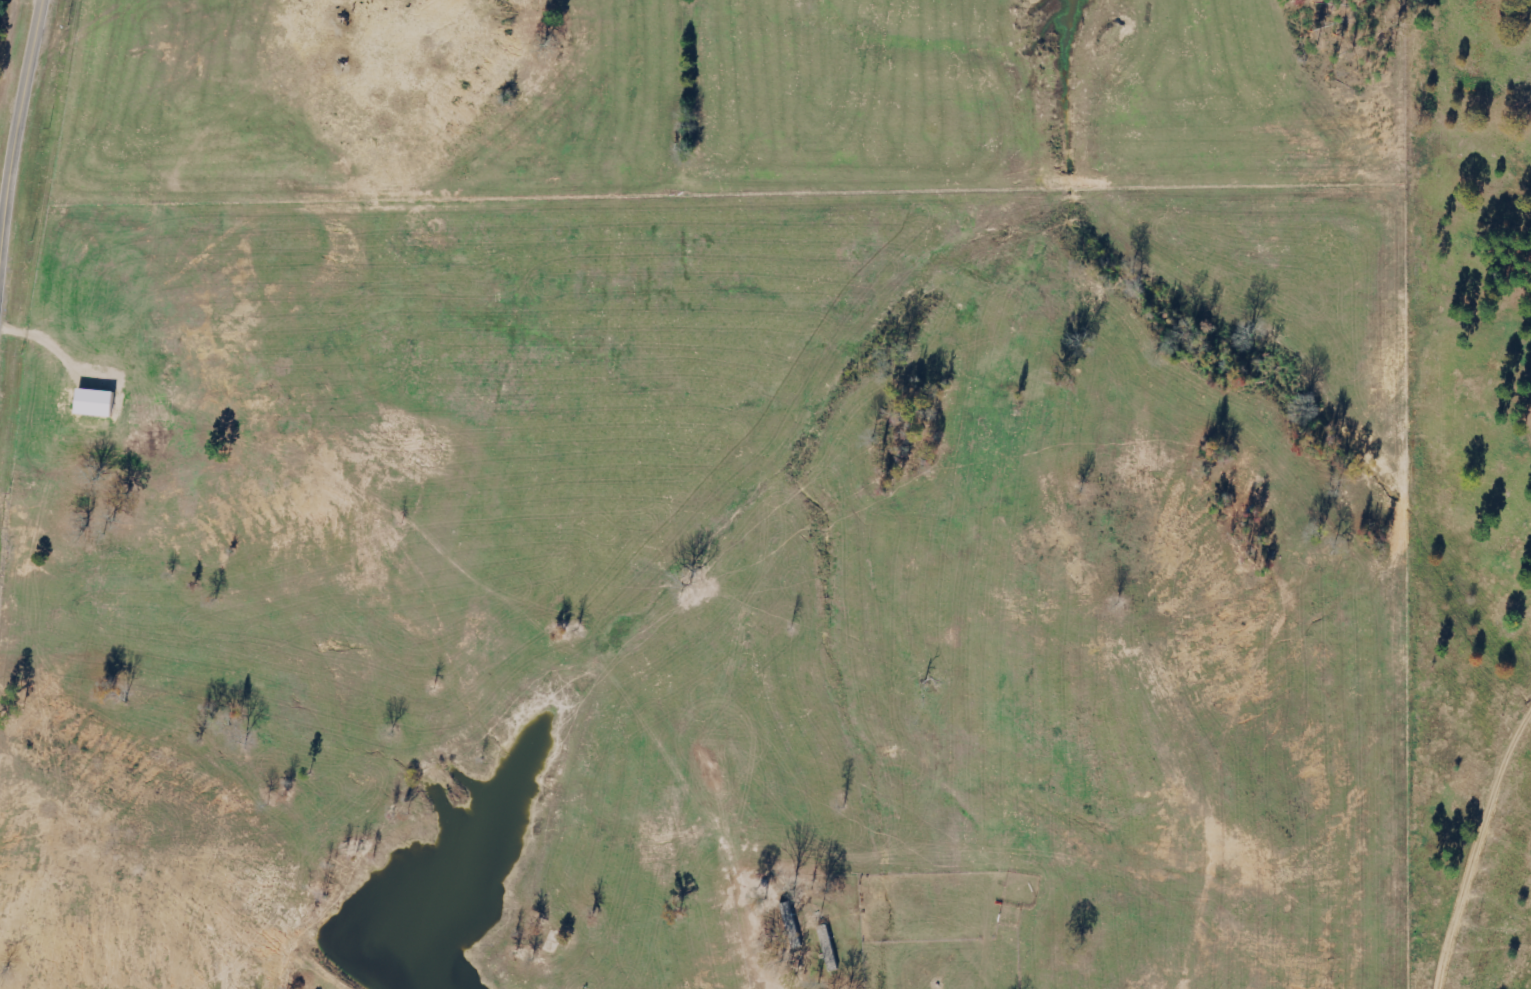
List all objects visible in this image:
road: (19, 18)
road: (19, 129)
road: (1477, 882)
road: (873, 925)
road: (772, 979)

